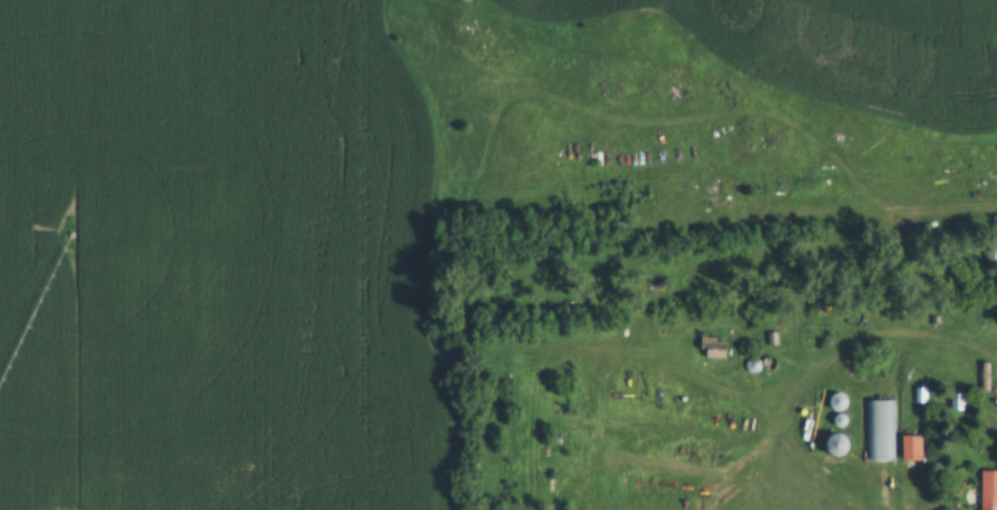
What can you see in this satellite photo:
road: (825, 130)
building: (715, 349)
building: (837, 403)
building: (882, 432)
building: (836, 447)
building: (909, 449)
building: (986, 491)

